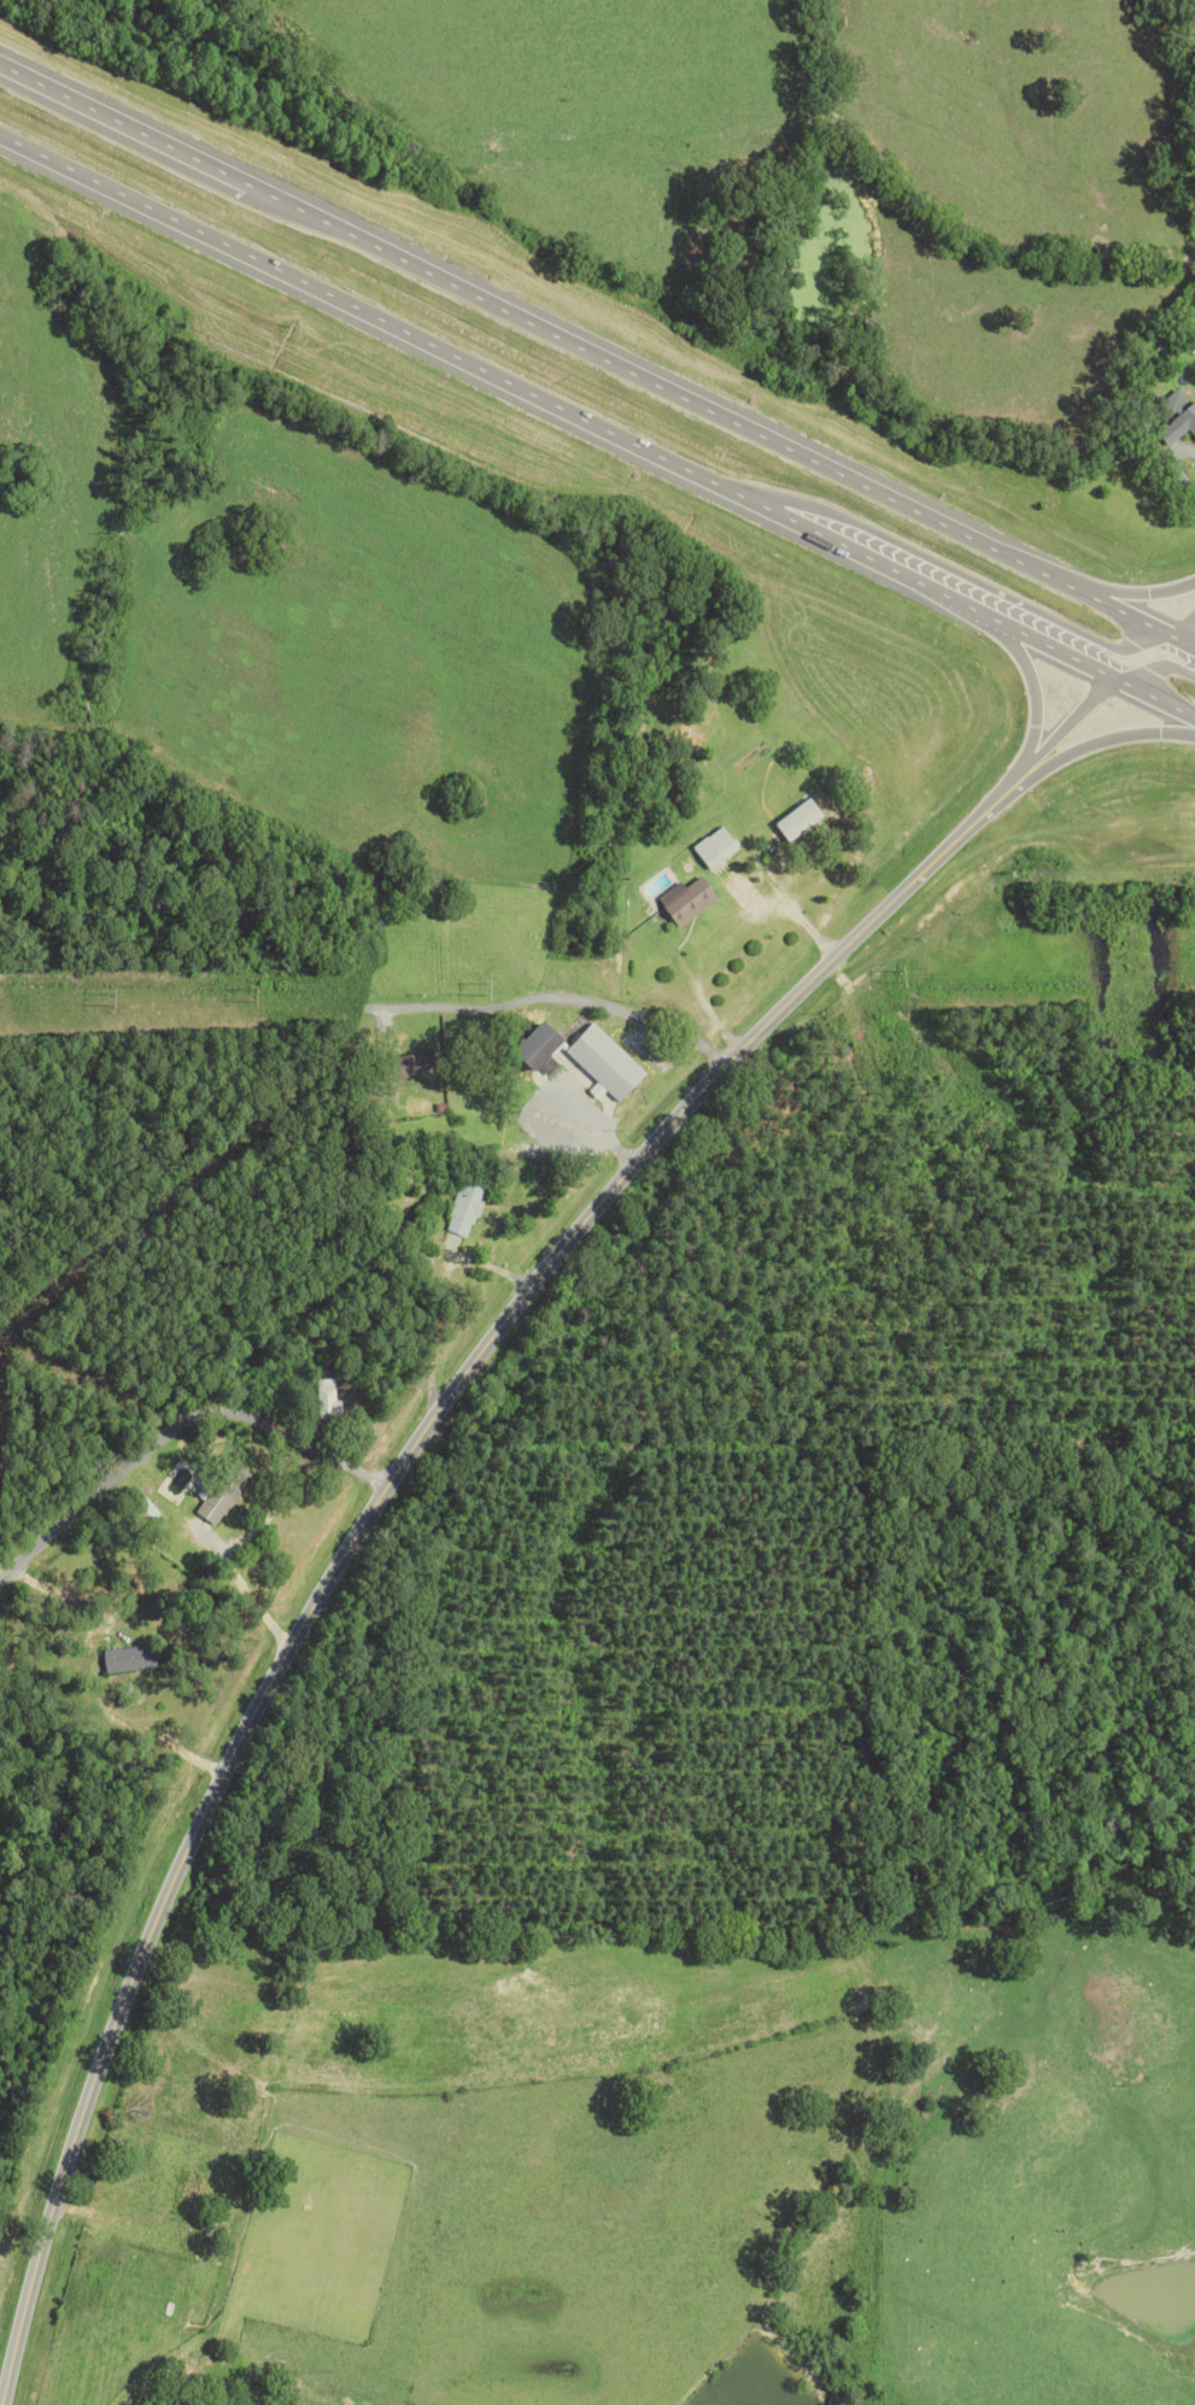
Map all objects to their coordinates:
road: (527, 324)
road: (560, 410)
building: (1179, 415)
road: (959, 573)
road: (1125, 592)
road: (1126, 612)
road: (1183, 623)
road: (1158, 664)
road: (1035, 690)
road: (1158, 698)
road: (1106, 740)
building: (801, 820)
building: (719, 846)
building: (691, 898)
road: (784, 903)
road: (649, 1022)
building: (543, 1044)
building: (609, 1062)
building: (420, 1063)
building: (467, 1207)
building: (327, 1397)
road: (175, 1430)
road: (410, 1445)
building: (215, 1501)
road: (245, 1586)
building: (131, 1658)
road: (163, 1742)

